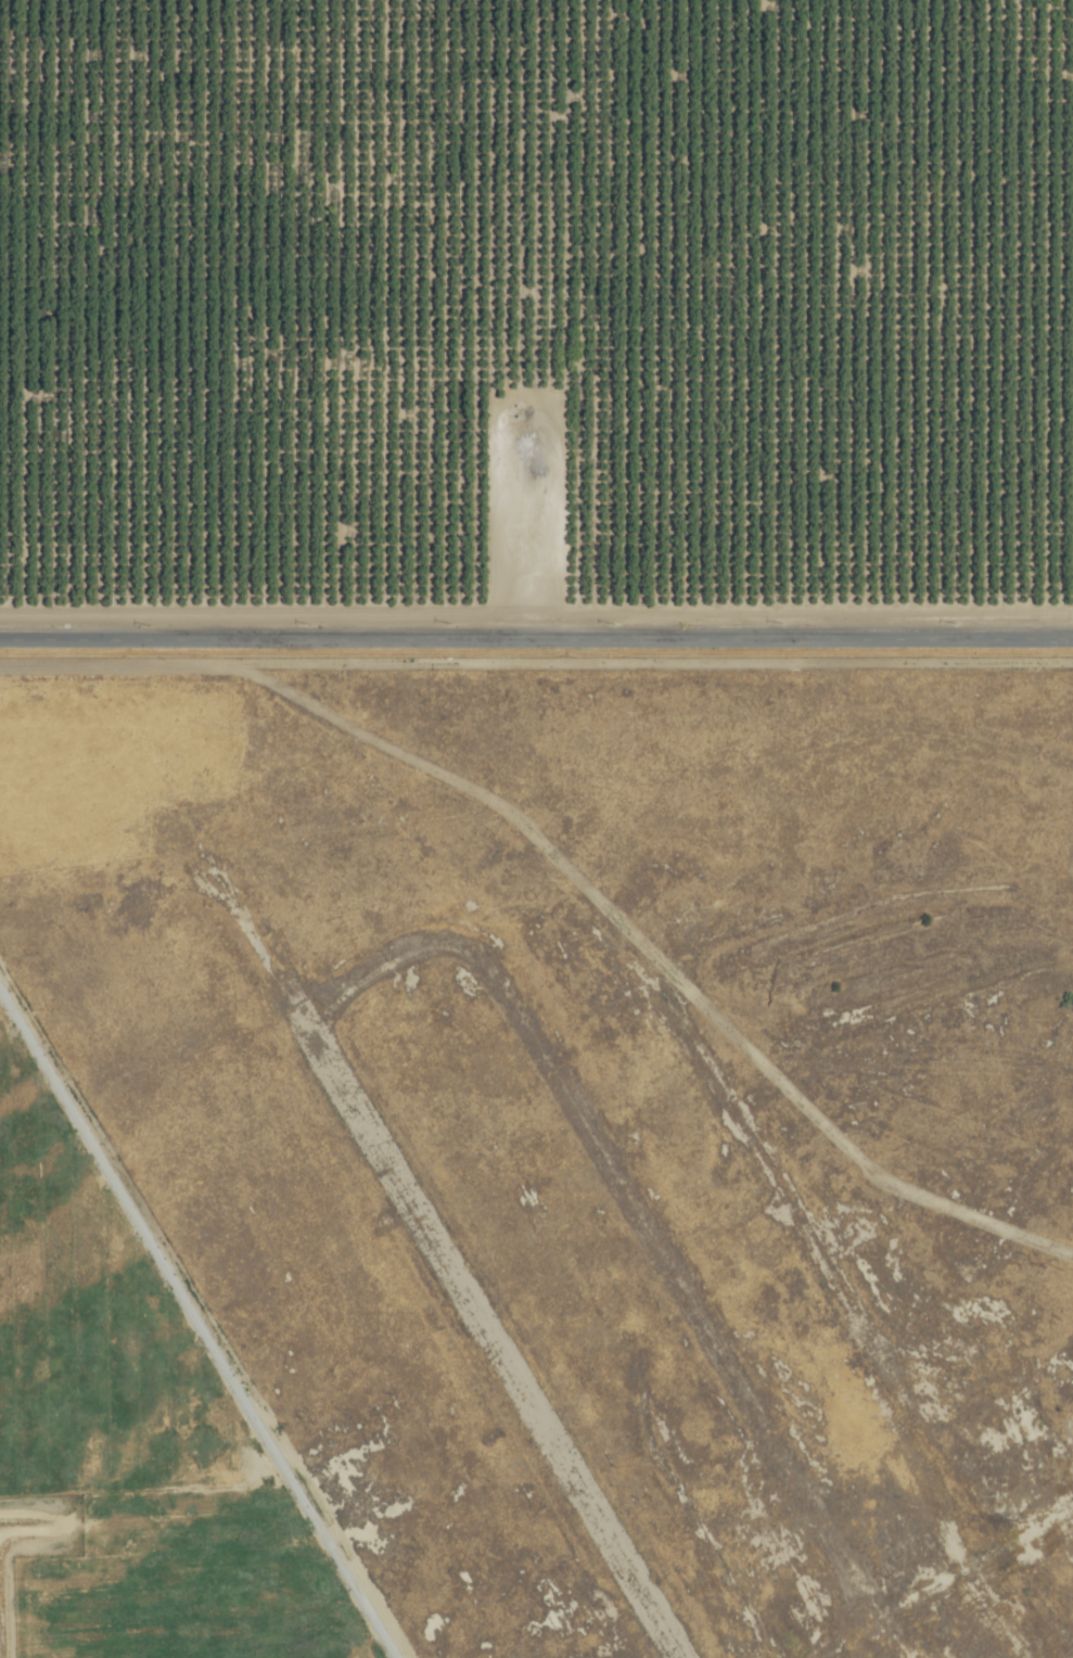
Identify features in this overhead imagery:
road: (536, 634)
road: (195, 1324)
building: (973, 1624)

